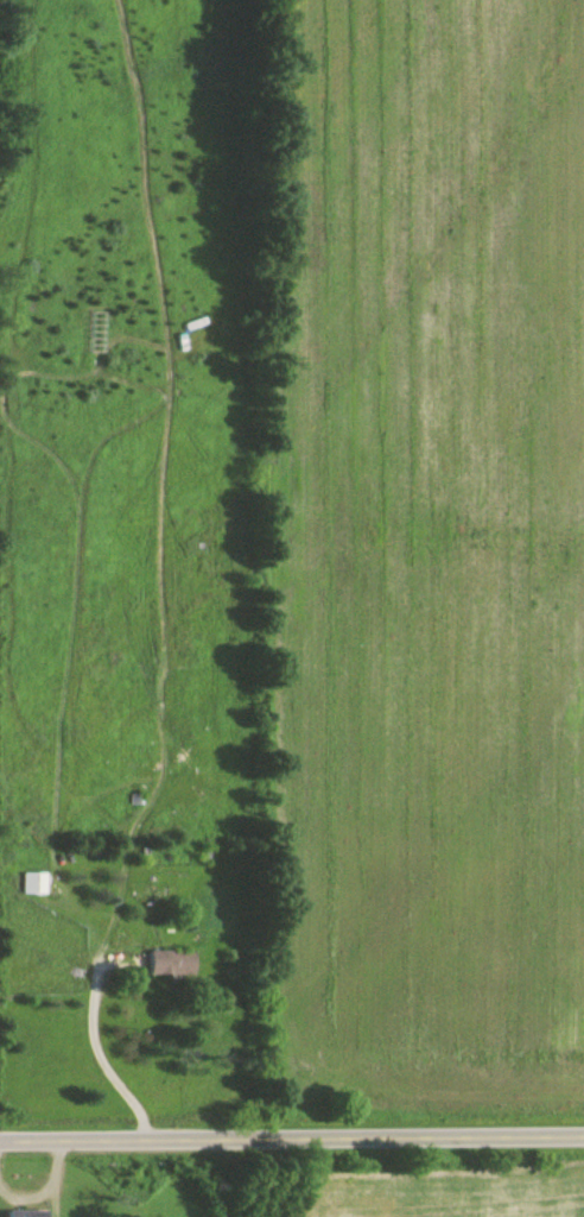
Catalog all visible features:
building: (31, 885)
building: (170, 965)
road: (436, 1136)
road: (144, 1140)
building: (26, 1215)

